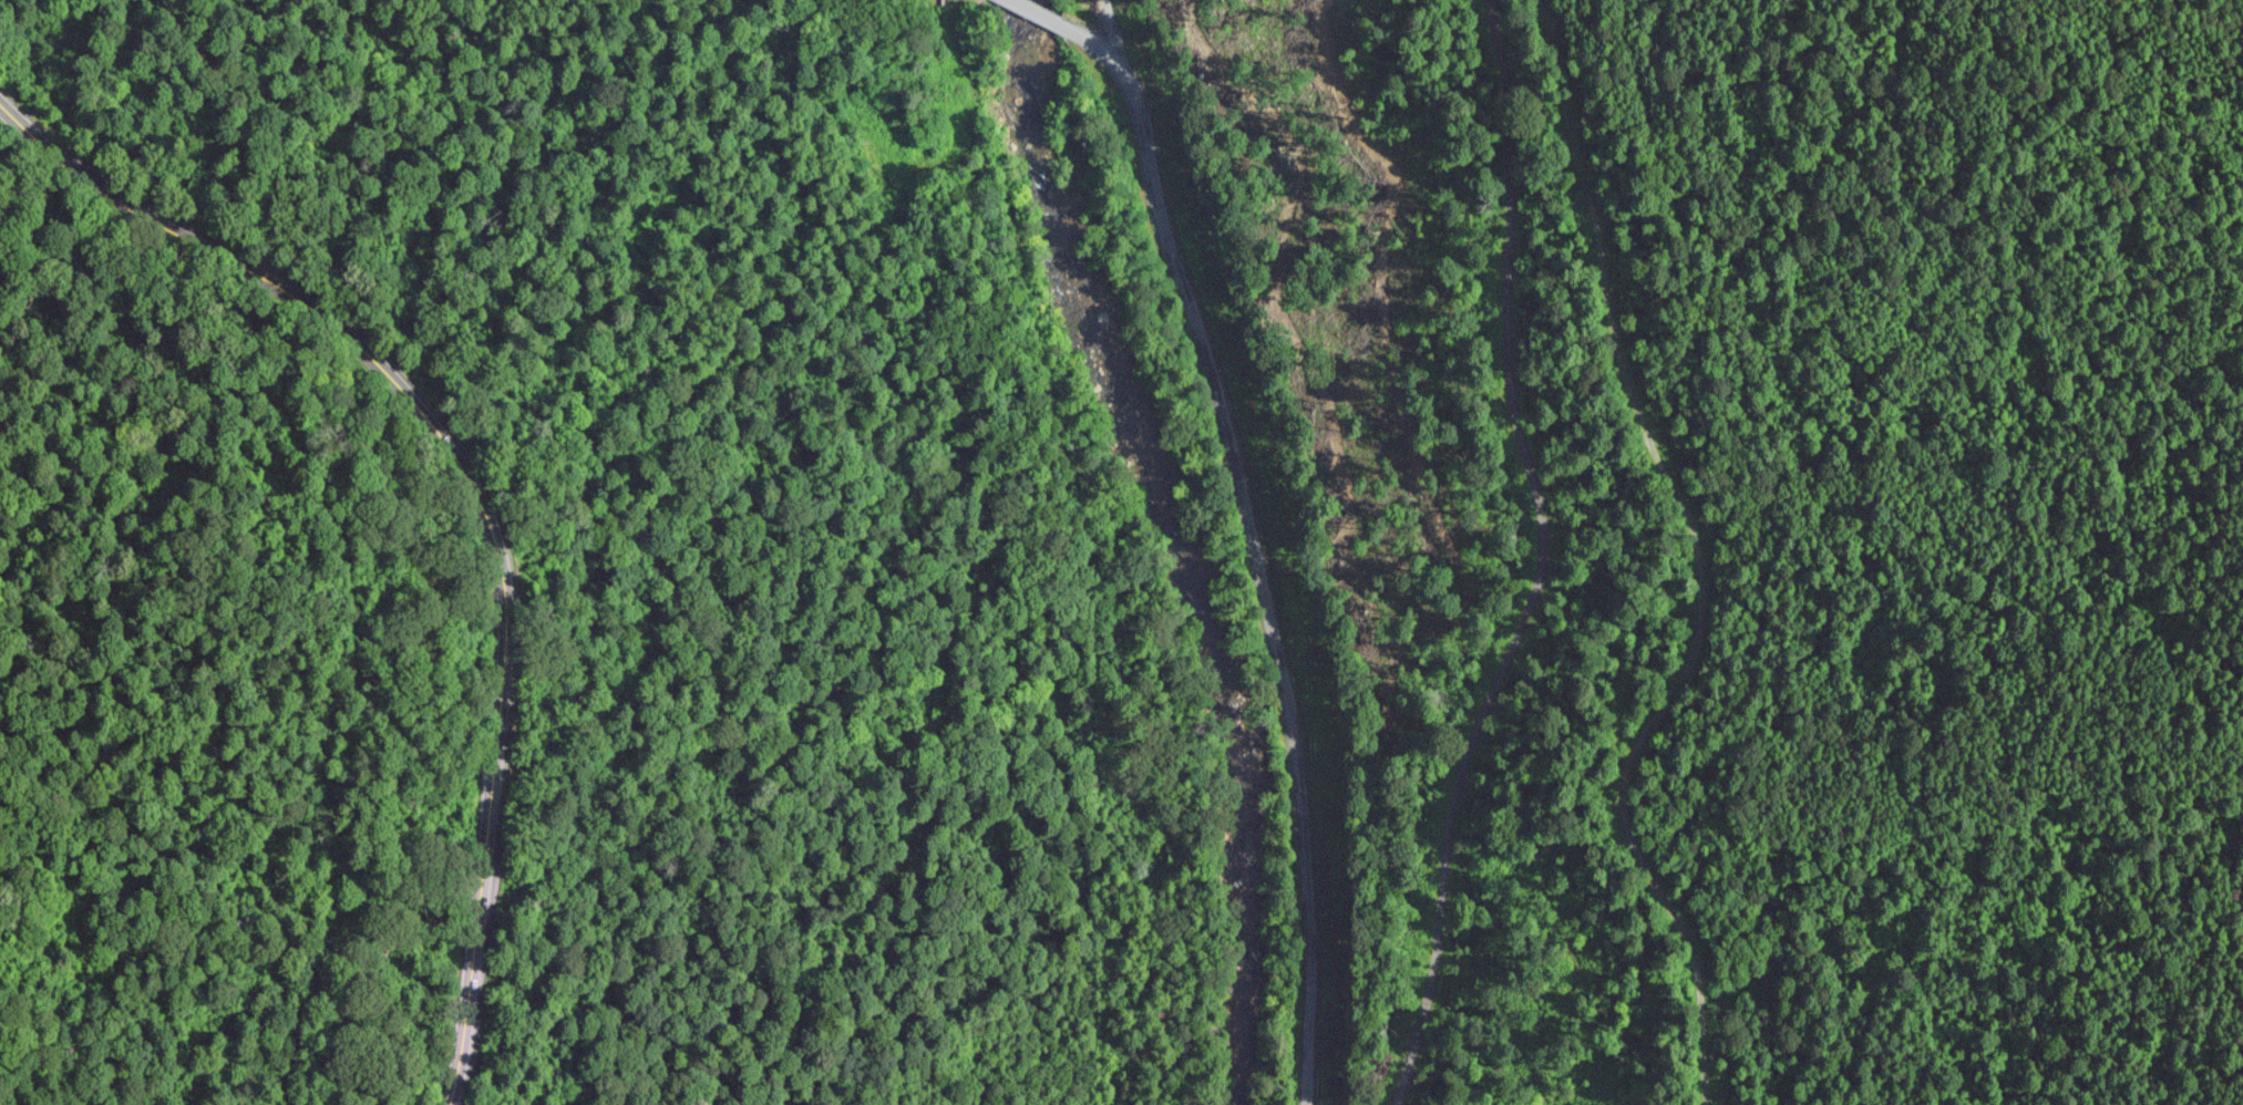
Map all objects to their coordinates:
road: (1098, 21)
road: (480, 488)
road: (1247, 517)
road: (1554, 564)

